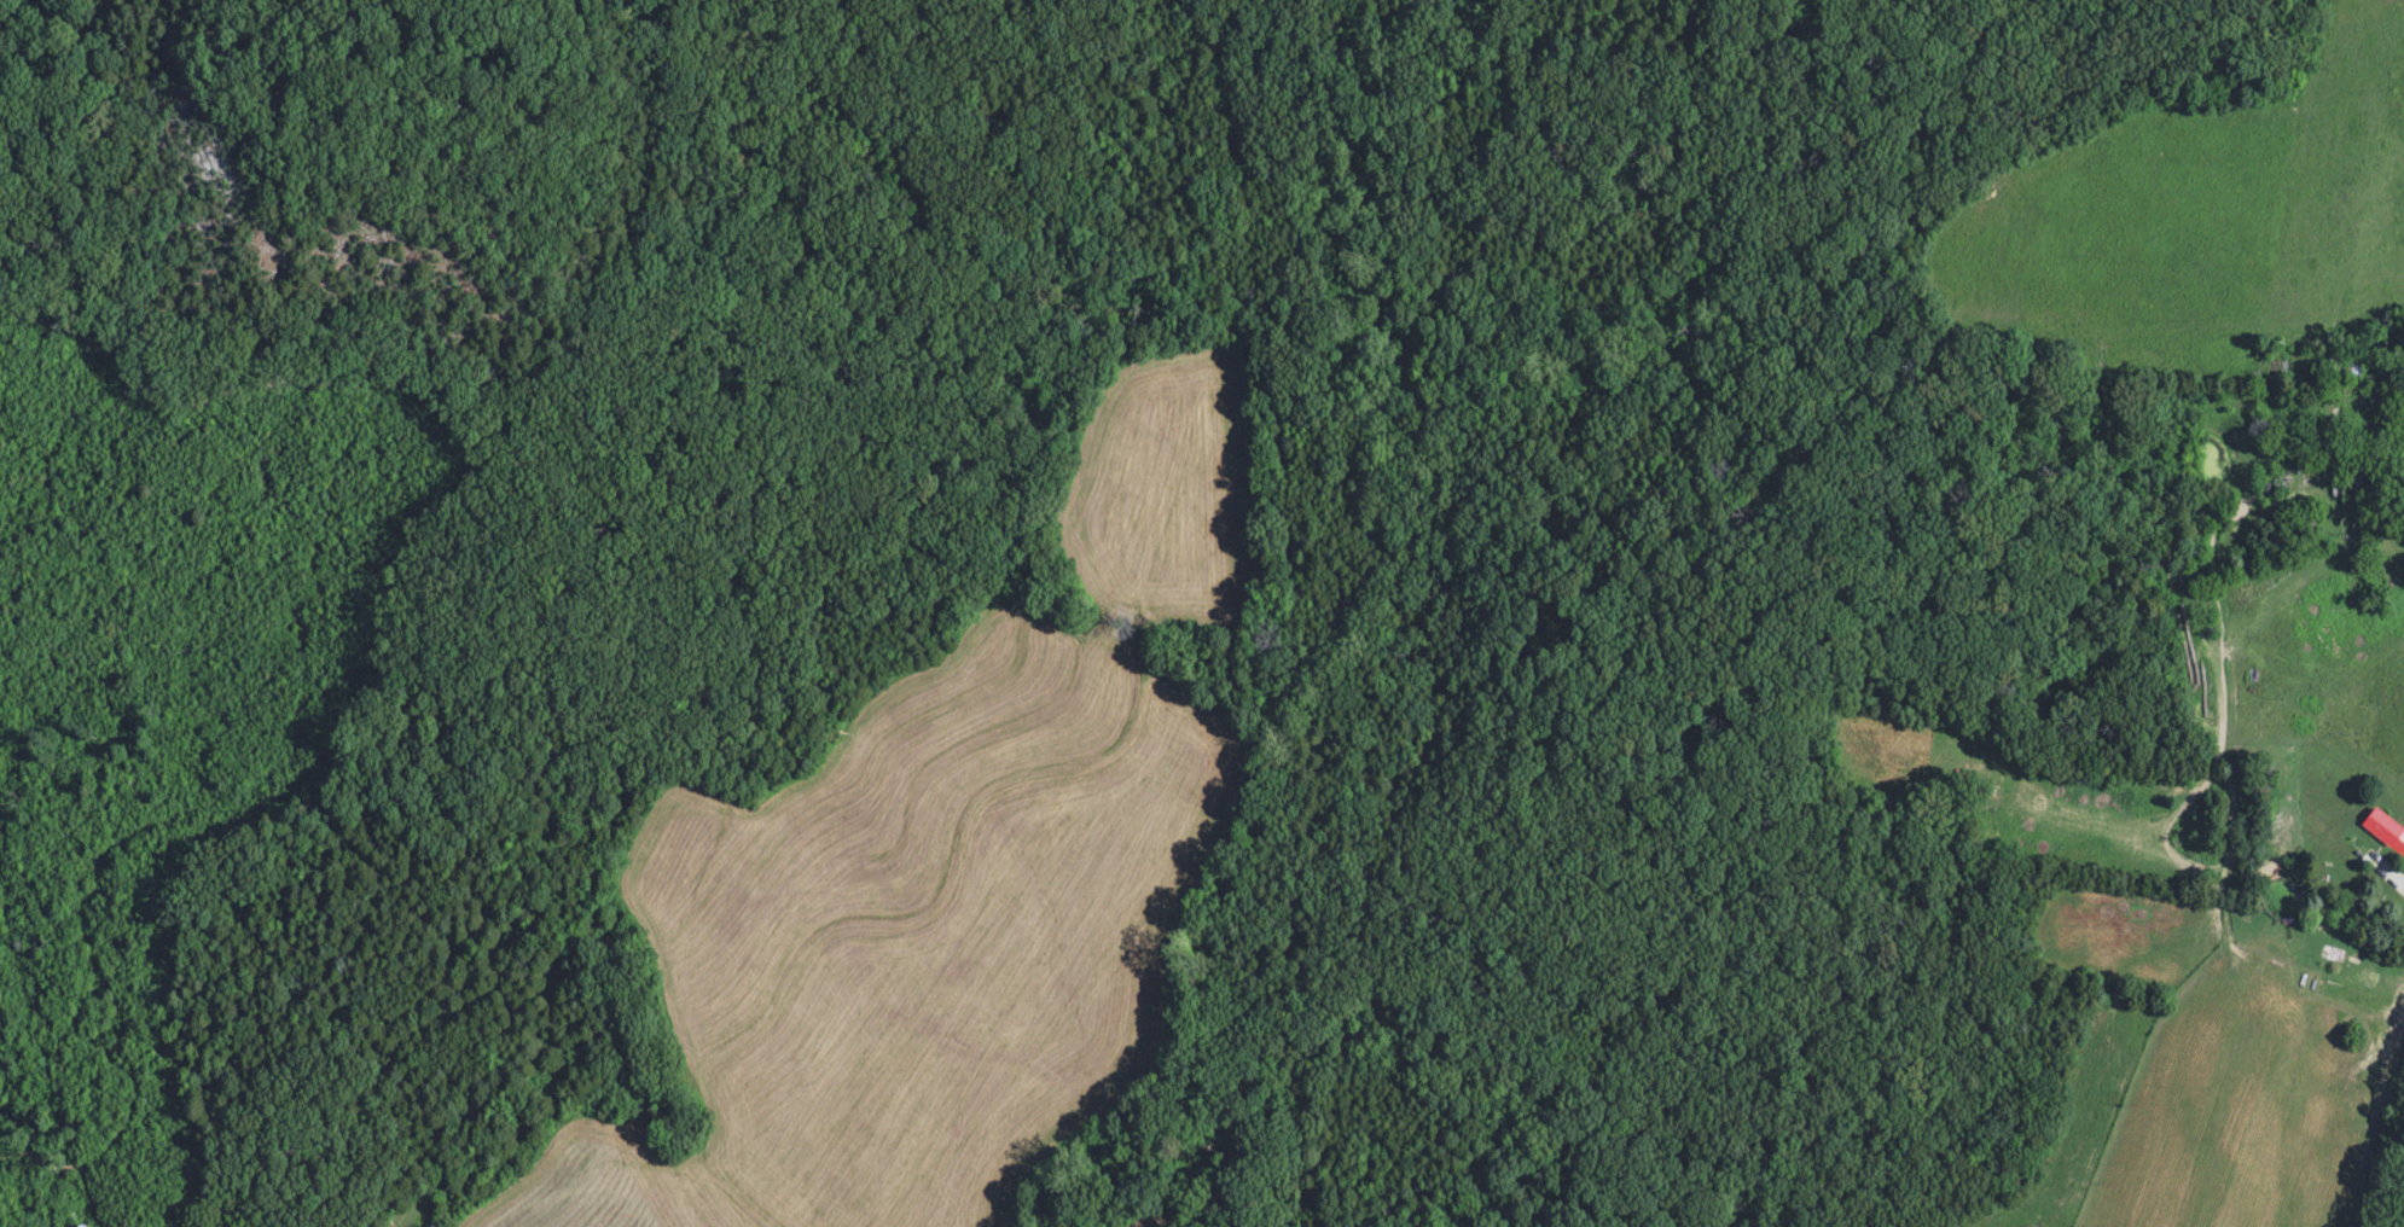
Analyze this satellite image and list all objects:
building: (2351, 368)
building: (2357, 483)
road: (2356, 517)
building: (2383, 832)

